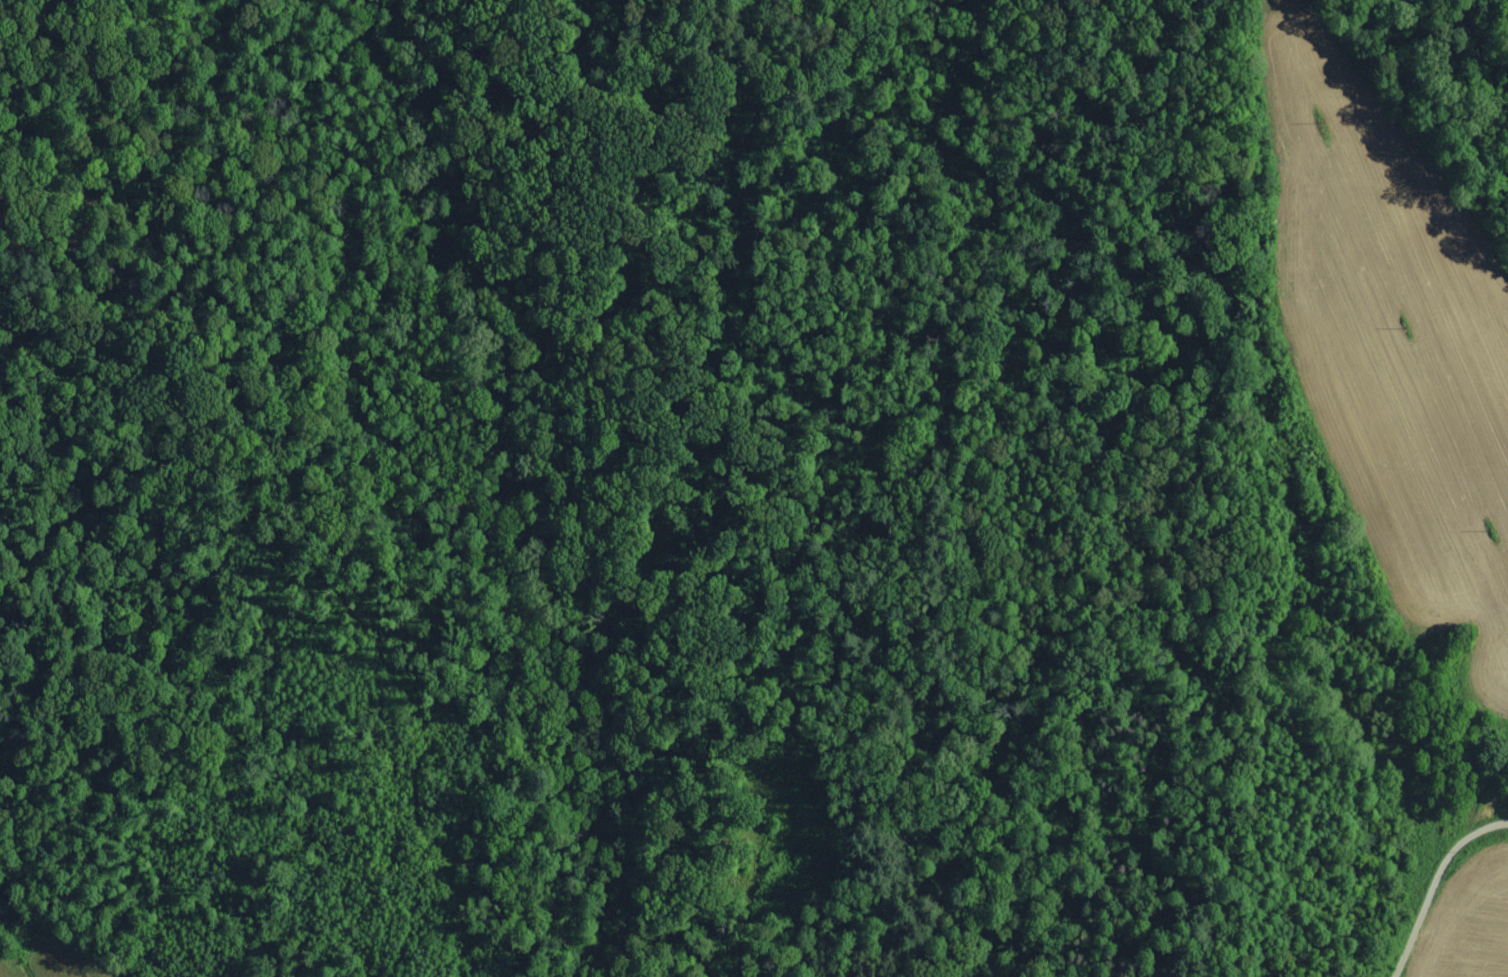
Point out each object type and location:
road: (1440, 888)

